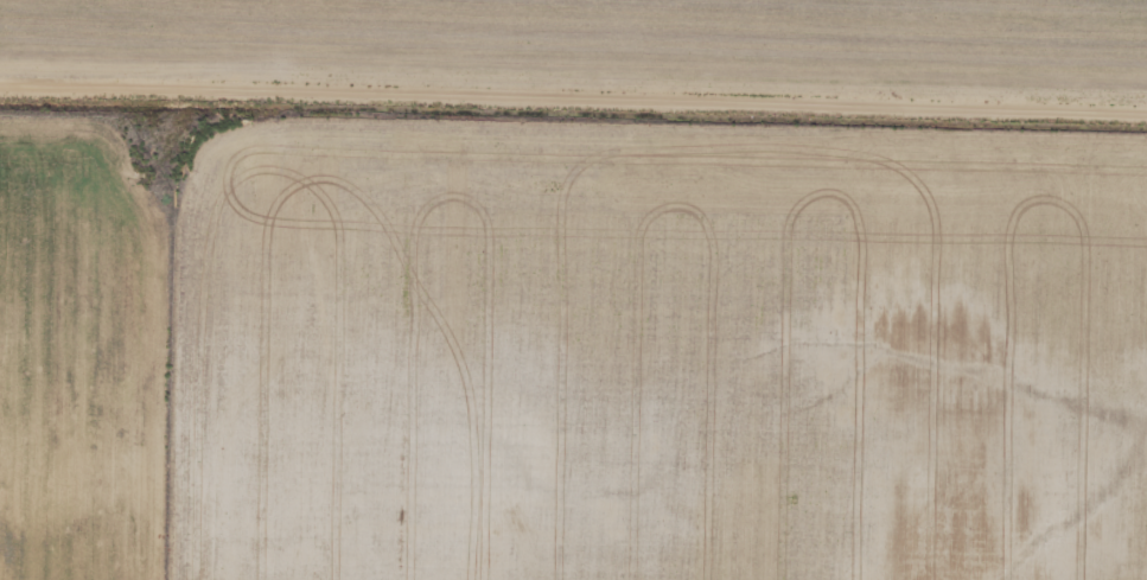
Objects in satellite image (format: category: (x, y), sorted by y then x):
road: (573, 95)

